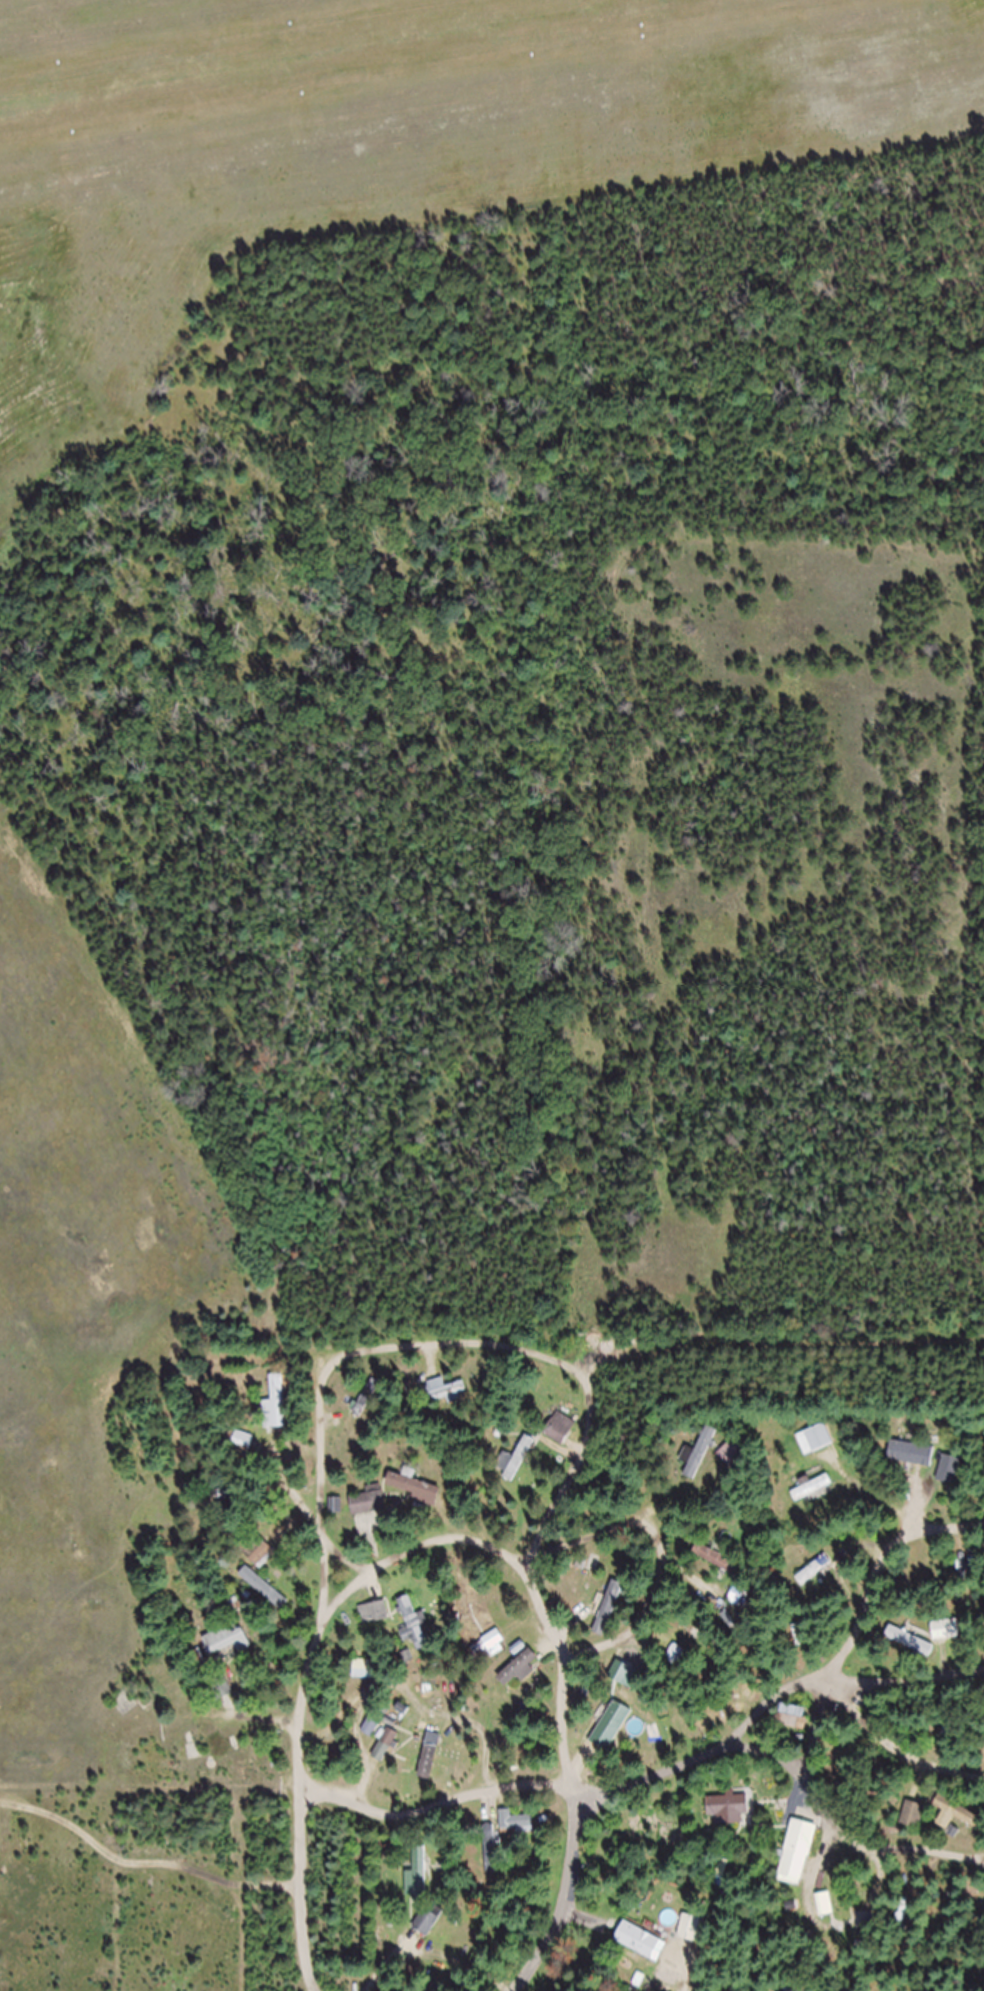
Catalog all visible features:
airport runway: (356, 59)
airport: (473, 714)
road: (475, 1341)
building: (444, 1399)
building: (367, 1408)
building: (276, 1413)
building: (559, 1437)
building: (815, 1449)
building: (238, 1451)
building: (701, 1462)
building: (729, 1463)
building: (516, 1469)
building: (411, 1498)
building: (366, 1513)
building: (335, 1515)
road: (309, 1524)
road: (570, 1544)
building: (255, 1560)
building: (713, 1566)
building: (815, 1580)
building: (259, 1594)
building: (464, 1602)
building: (737, 1604)
road: (862, 1615)
building: (610, 1618)
building: (373, 1623)
building: (413, 1634)
building: (946, 1640)
building: (225, 1651)
building: (908, 1651)
building: (488, 1656)
building: (693, 1656)
road: (979, 1667)
building: (518, 1678)
building: (791, 1726)
building: (611, 1736)
building: (380, 1746)
road: (899, 1752)
building: (237, 1760)
building: (438, 1765)
road: (650, 1779)
building: (727, 1819)
building: (956, 1821)
building: (913, 1825)
road: (843, 1828)
building: (515, 1832)
building: (490, 1858)
building: (797, 1863)
building: (418, 1883)
building: (432, 1934)
building: (690, 1938)
building: (640, 1951)

